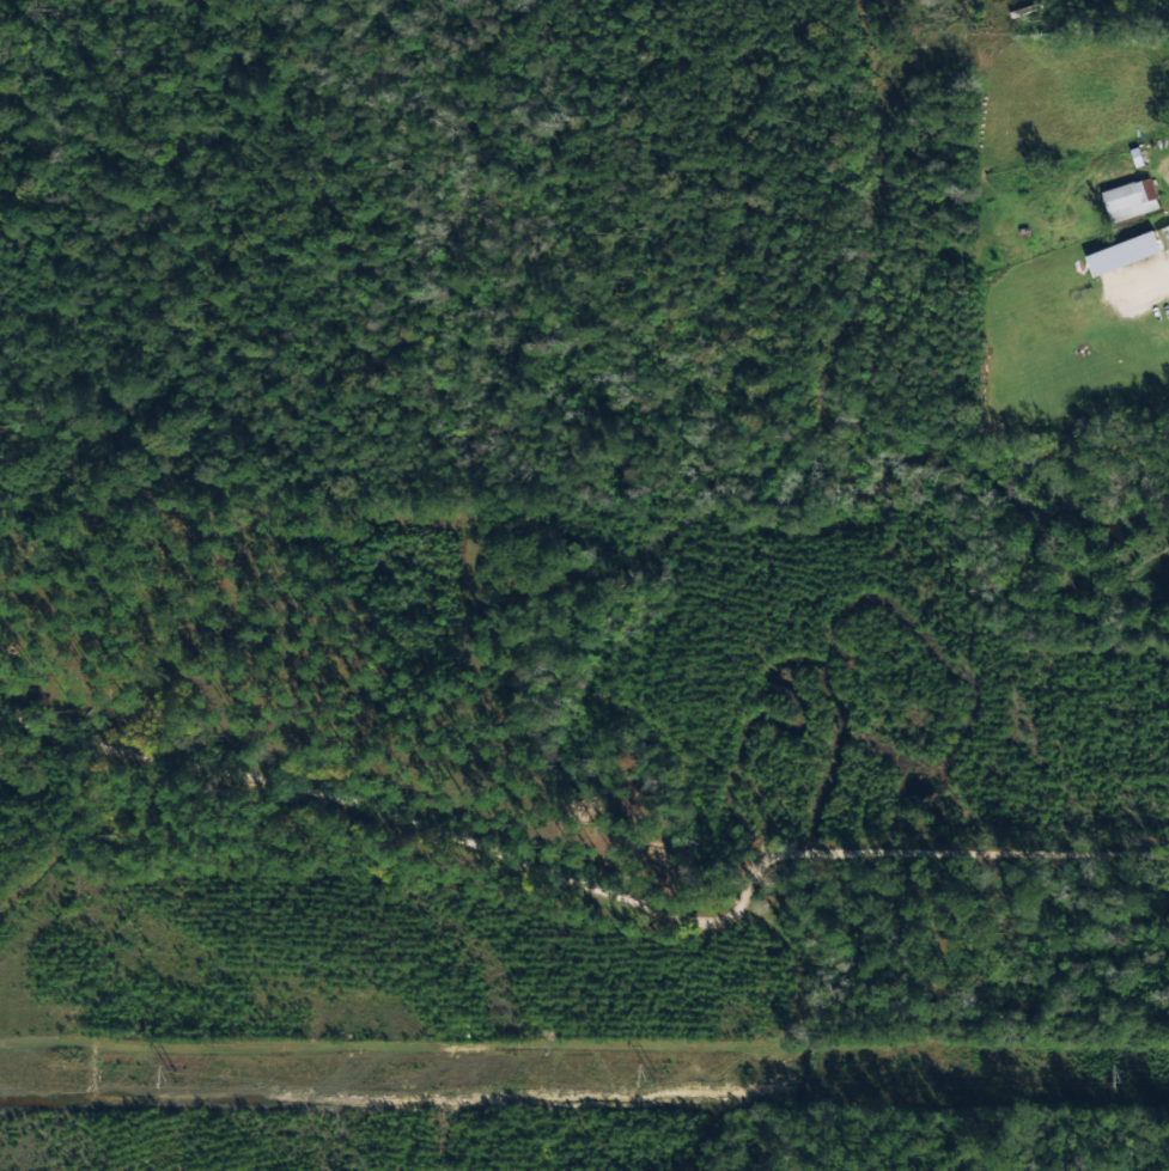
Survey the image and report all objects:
building: (1130, 197)
building: (1164, 233)
building: (1122, 251)
power tower: (170, 1078)
power tower: (652, 1078)
power tower: (1122, 1078)

